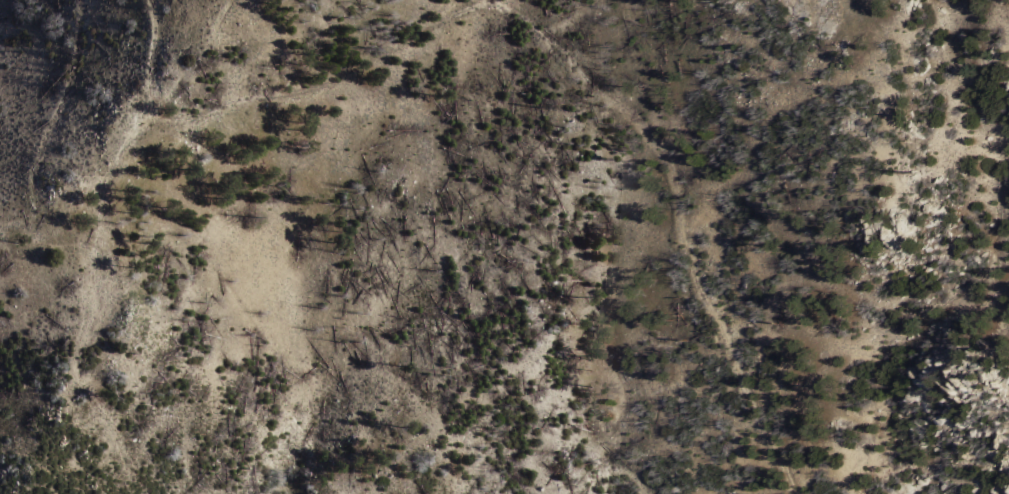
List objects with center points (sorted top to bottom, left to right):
road: (540, 35)
road: (196, 59)
road: (621, 470)

